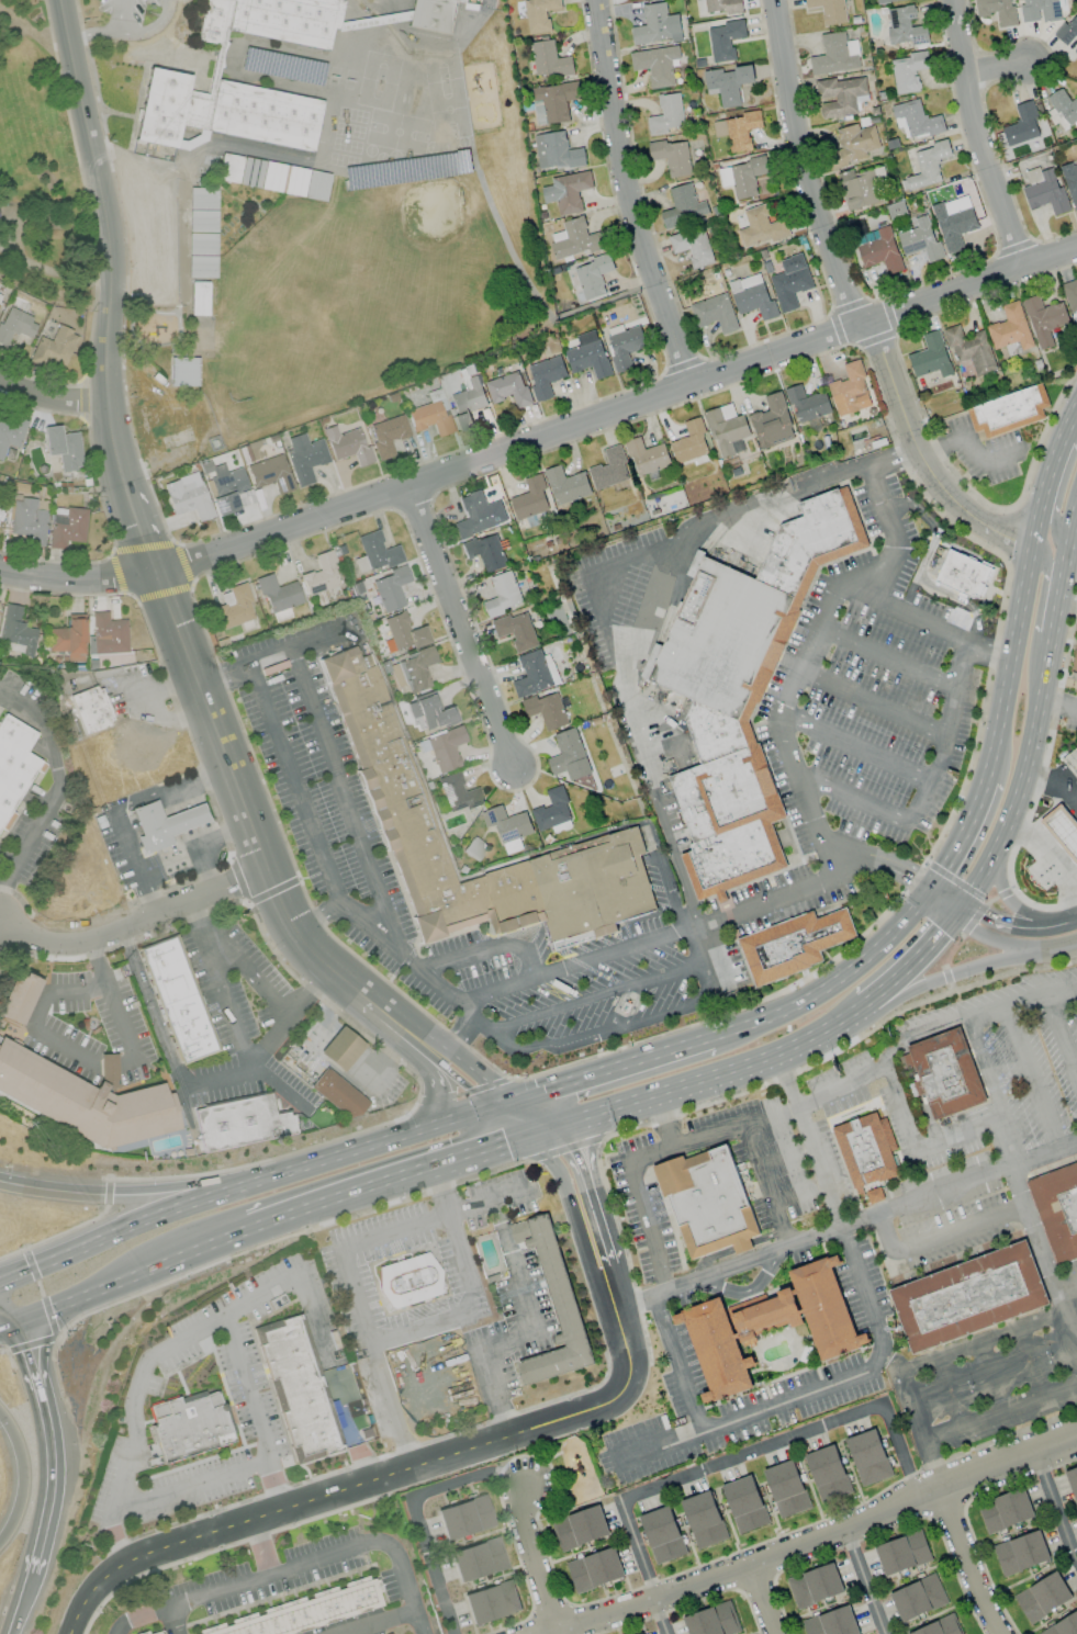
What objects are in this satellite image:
building: (885, 1)
building: (718, 5)
building: (829, 10)
building: (996, 10)
building: (1040, 10)
road: (116, 14)
building: (433, 14)
building: (539, 14)
building: (657, 25)
building: (905, 26)
building: (1067, 31)
road: (33, 32)
road: (125, 32)
building: (725, 40)
building: (835, 55)
building: (549, 59)
building: (655, 65)
road: (996, 68)
building: (908, 71)
building: (166, 77)
building: (728, 83)
building: (841, 97)
building: (553, 102)
building: (1065, 106)
building: (666, 115)
building: (915, 120)
building: (1022, 124)
building: (738, 129)
road: (973, 137)
building: (855, 142)
building: (556, 151)
building: (672, 157)
building: (927, 166)
park: (38, 169)
building: (272, 176)
building: (741, 177)
building: (1070, 183)
building: (862, 189)
building: (566, 192)
building: (1046, 193)
road: (630, 195)
building: (683, 206)
building: (896, 210)
road: (153, 216)
building: (201, 221)
building: (954, 222)
building: (760, 227)
building: (576, 239)
building: (920, 240)
building: (692, 245)
building: (878, 250)
building: (200, 266)
road: (53, 272)
building: (592, 277)
building: (789, 282)
road: (109, 285)
building: (0, 295)
building: (752, 296)
building: (1070, 296)
building: (198, 297)
road: (851, 304)
building: (715, 313)
building: (1044, 319)
building: (14, 324)
building: (1010, 328)
building: (624, 345)
building: (53, 347)
building: (971, 349)
building: (588, 356)
building: (930, 357)
building: (182, 371)
building: (546, 375)
building: (508, 388)
building: (850, 391)
road: (53, 396)
building: (467, 402)
building: (807, 404)
building: (1009, 409)
road: (613, 412)
building: (428, 418)
building: (772, 421)
road: (1072, 421)
building: (727, 430)
building: (11, 432)
building: (386, 433)
building: (689, 442)
building: (347, 444)
road: (968, 444)
building: (61, 447)
road: (1055, 454)
building: (304, 457)
building: (646, 457)
building: (609, 469)
building: (269, 473)
building: (565, 485)
building: (222, 486)
road: (1045, 494)
building: (187, 495)
building: (530, 498)
road: (1054, 512)
building: (478, 515)
building: (27, 519)
building: (65, 526)
road: (1033, 530)
road: (1073, 530)
road: (1073, 546)
building: (374, 552)
building: (485, 552)
road: (1065, 557)
road: (1047, 566)
road: (920, 568)
building: (321, 574)
road: (75, 578)
building: (966, 578)
road: (1059, 579)
building: (390, 588)
building: (503, 594)
parking lot: (627, 595)
building: (278, 596)
road: (597, 600)
road: (1019, 605)
building: (234, 607)
road: (646, 610)
road: (1053, 612)
road: (924, 620)
road: (458, 626)
building: (516, 631)
building: (402, 632)
building: (108, 633)
building: (68, 638)
road: (270, 656)
road: (886, 656)
road: (1043, 666)
building: (412, 669)
building: (1076, 672)
building: (534, 674)
building: (1076, 679)
parking lot: (873, 685)
building: (742, 687)
road: (872, 702)
road: (143, 705)
road: (1057, 705)
building: (92, 710)
building: (546, 710)
building: (426, 712)
road: (1000, 722)
building: (375, 743)
road: (854, 745)
building: (445, 747)
building: (569, 756)
building: (13, 762)
building: (1072, 762)
road: (1065, 775)
parking lot: (315, 777)
road: (1052, 785)
road: (58, 786)
road: (923, 790)
building: (457, 792)
road: (179, 797)
road: (237, 799)
road: (346, 800)
road: (1011, 807)
road: (114, 809)
building: (552, 810)
road: (188, 818)
building: (184, 819)
gas station: (184, 819)
building: (150, 827)
building: (507, 827)
building: (1063, 830)
gas station: (1063, 830)
road: (223, 833)
road: (960, 836)
building: (473, 848)
road: (322, 857)
road: (205, 858)
road: (880, 858)
road: (1056, 860)
road: (831, 865)
traffic signals: (931, 889)
road: (1, 893)
road: (947, 897)
traffic signals: (965, 905)
road: (1013, 908)
road: (193, 913)
road: (960, 913)
road: (316, 919)
traffic signals: (955, 921)
road: (1074, 921)
road: (134, 924)
road: (1016, 928)
road: (2, 935)
road: (989, 937)
road: (203, 940)
road: (1073, 944)
building: (793, 946)
road: (491, 947)
road: (915, 967)
road: (714, 971)
road: (834, 980)
road: (942, 980)
parking lot: (579, 988)
road: (602, 994)
building: (18, 996)
building: (178, 1000)
road: (150, 1007)
road: (296, 1008)
building: (626, 1008)
road: (848, 1024)
road: (403, 1025)
road: (482, 1026)
flagpole: (96, 1029)
road: (928, 1029)
road: (605, 1030)
road: (1061, 1035)
road: (312, 1043)
building: (341, 1047)
gas station: (341, 1047)
road: (385, 1053)
road: (93, 1061)
road: (619, 1071)
road: (482, 1074)
road: (222, 1075)
building: (946, 1075)
road: (1033, 1075)
road: (281, 1084)
road: (462, 1084)
road: (694, 1088)
road: (992, 1089)
building: (338, 1093)
building: (83, 1098)
road: (439, 1102)
traffic signals: (524, 1103)
road: (509, 1107)
traffic signals: (495, 1112)
road: (542, 1116)
road: (771, 1116)
road: (459, 1122)
road: (662, 1122)
building: (240, 1123)
road: (513, 1125)
traffic signals: (561, 1129)
road: (546, 1134)
traffic signals: (531, 1139)
road: (393, 1141)
road: (916, 1146)
building: (866, 1153)
road: (475, 1157)
road: (786, 1158)
road: (334, 1160)
road: (632, 1169)
road: (203, 1184)
road: (766, 1184)
road: (51, 1186)
road: (800, 1194)
road: (487, 1201)
building: (709, 1201)
road: (335, 1202)
road: (591, 1206)
building: (1057, 1209)
road: (570, 1212)
road: (150, 1218)
road: (845, 1224)
road: (941, 1239)
road: (1043, 1247)
road: (733, 1248)
road: (157, 1264)
building: (407, 1281)
road: (1067, 1287)
road: (742, 1288)
building: (559, 1291)
road: (469, 1292)
building: (968, 1297)
road: (356, 1306)
building: (824, 1308)
road: (44, 1312)
road: (313, 1314)
building: (766, 1317)
road: (11, 1320)
traffic signals: (23, 1322)
road: (11, 1326)
road: (524, 1329)
road: (878, 1341)
road: (984, 1343)
building: (716, 1348)
road: (159, 1354)
road: (677, 1362)
road: (34, 1363)
road: (1029, 1363)
road: (994, 1376)
building: (299, 1387)
road: (951, 1393)
road: (999, 1411)
building: (192, 1427)
road: (918, 1432)
building: (868, 1457)
road: (259, 1458)
road: (731, 1458)
building: (827, 1473)
road: (24, 1475)
road: (384, 1476)
building: (1073, 1480)
road: (276, 1483)
road: (52, 1489)
building: (786, 1489)
building: (744, 1505)
road: (1054, 1508)
building: (1005, 1511)
building: (464, 1517)
building: (704, 1520)
building: (580, 1528)
road: (422, 1533)
building: (662, 1534)
road: (114, 1535)
road: (820, 1537)
road: (262, 1546)
building: (902, 1553)
building: (1020, 1553)
building: (476, 1558)
road: (535, 1559)
road: (967, 1562)
road: (296, 1564)
building: (594, 1569)
road: (863, 1581)
building: (815, 1586)
building: (1042, 1597)
building: (918, 1598)
road: (762, 1600)
building: (491, 1601)
road: (20, 1603)
building: (305, 1611)
road: (172, 1620)
road: (375, 1620)
building: (713, 1621)
building: (831, 1623)
building: (1063, 1625)
building: (939, 1627)
building: (159, 1632)

